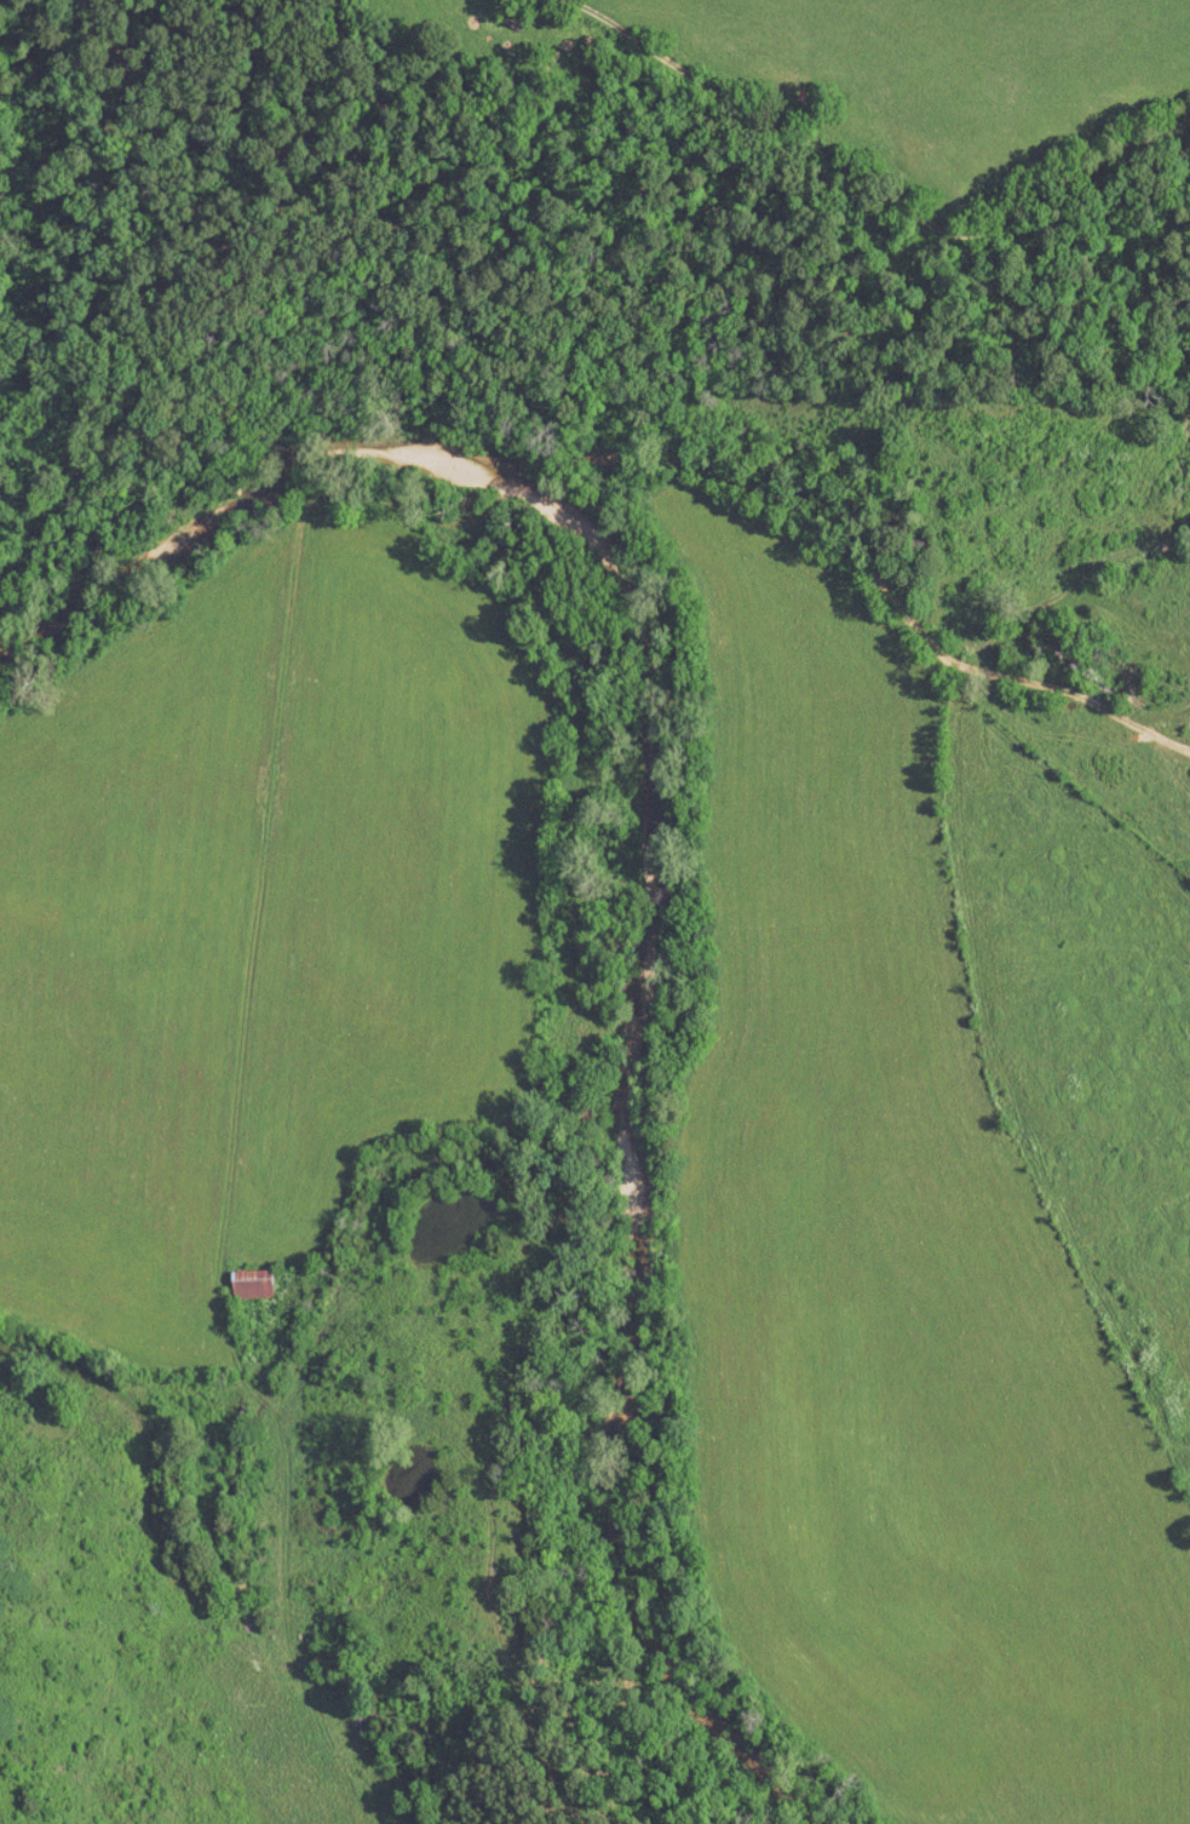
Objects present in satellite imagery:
road: (866, 156)
road: (921, 625)

